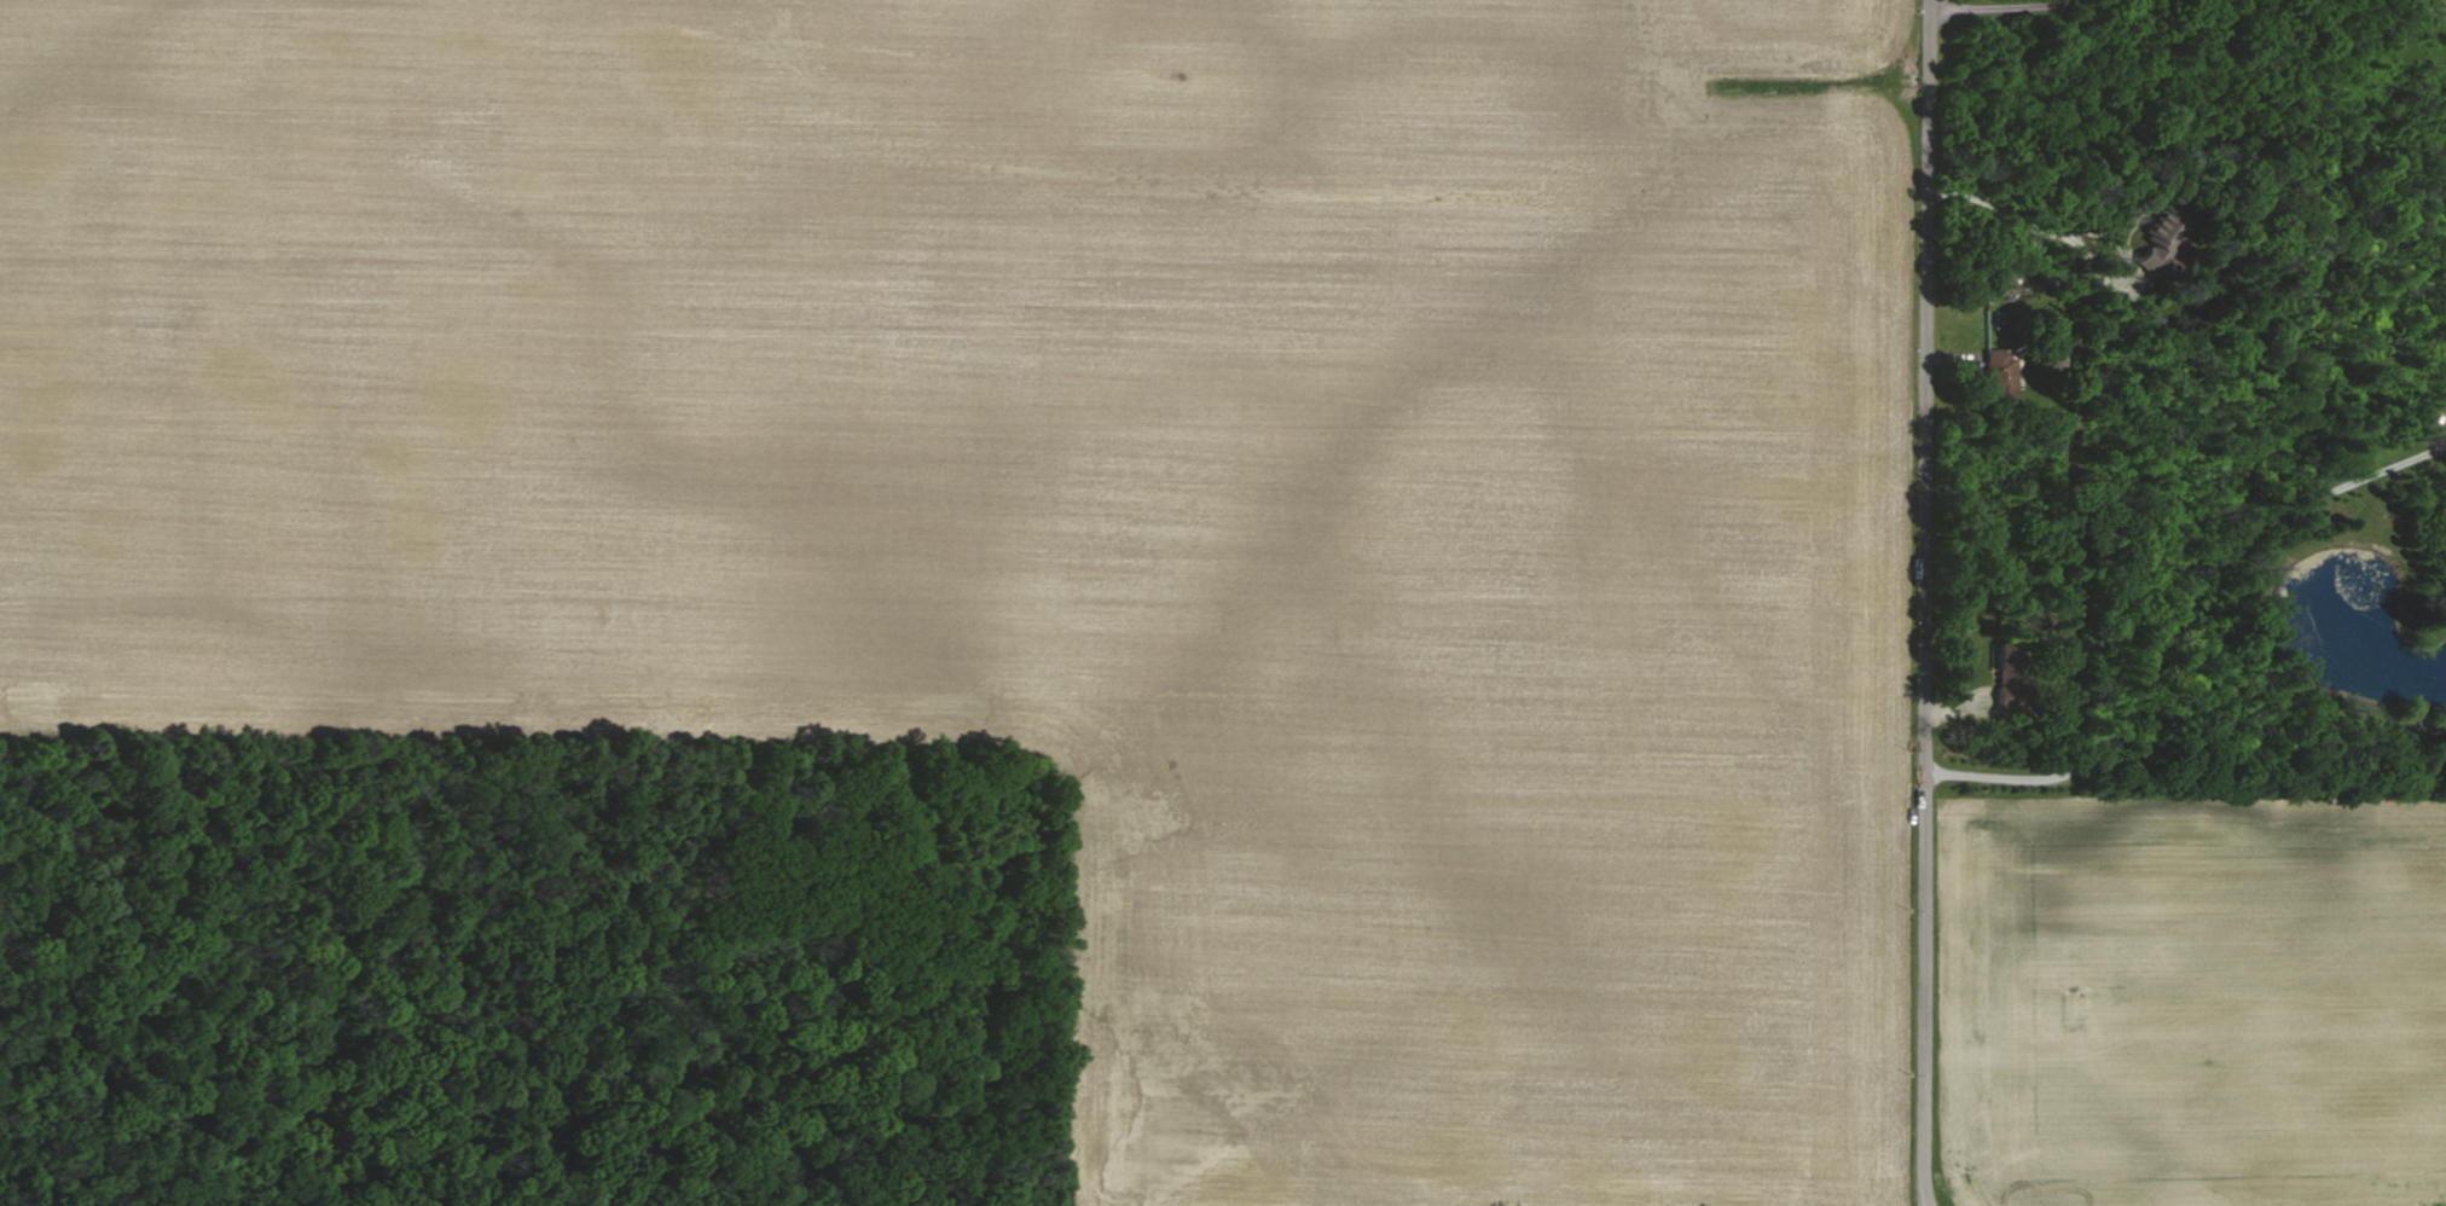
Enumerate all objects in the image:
road: (2038, 7)
road: (2075, 230)
building: (2164, 245)
building: (2001, 370)
road: (1923, 603)
road: (2179, 624)
building: (2013, 673)

